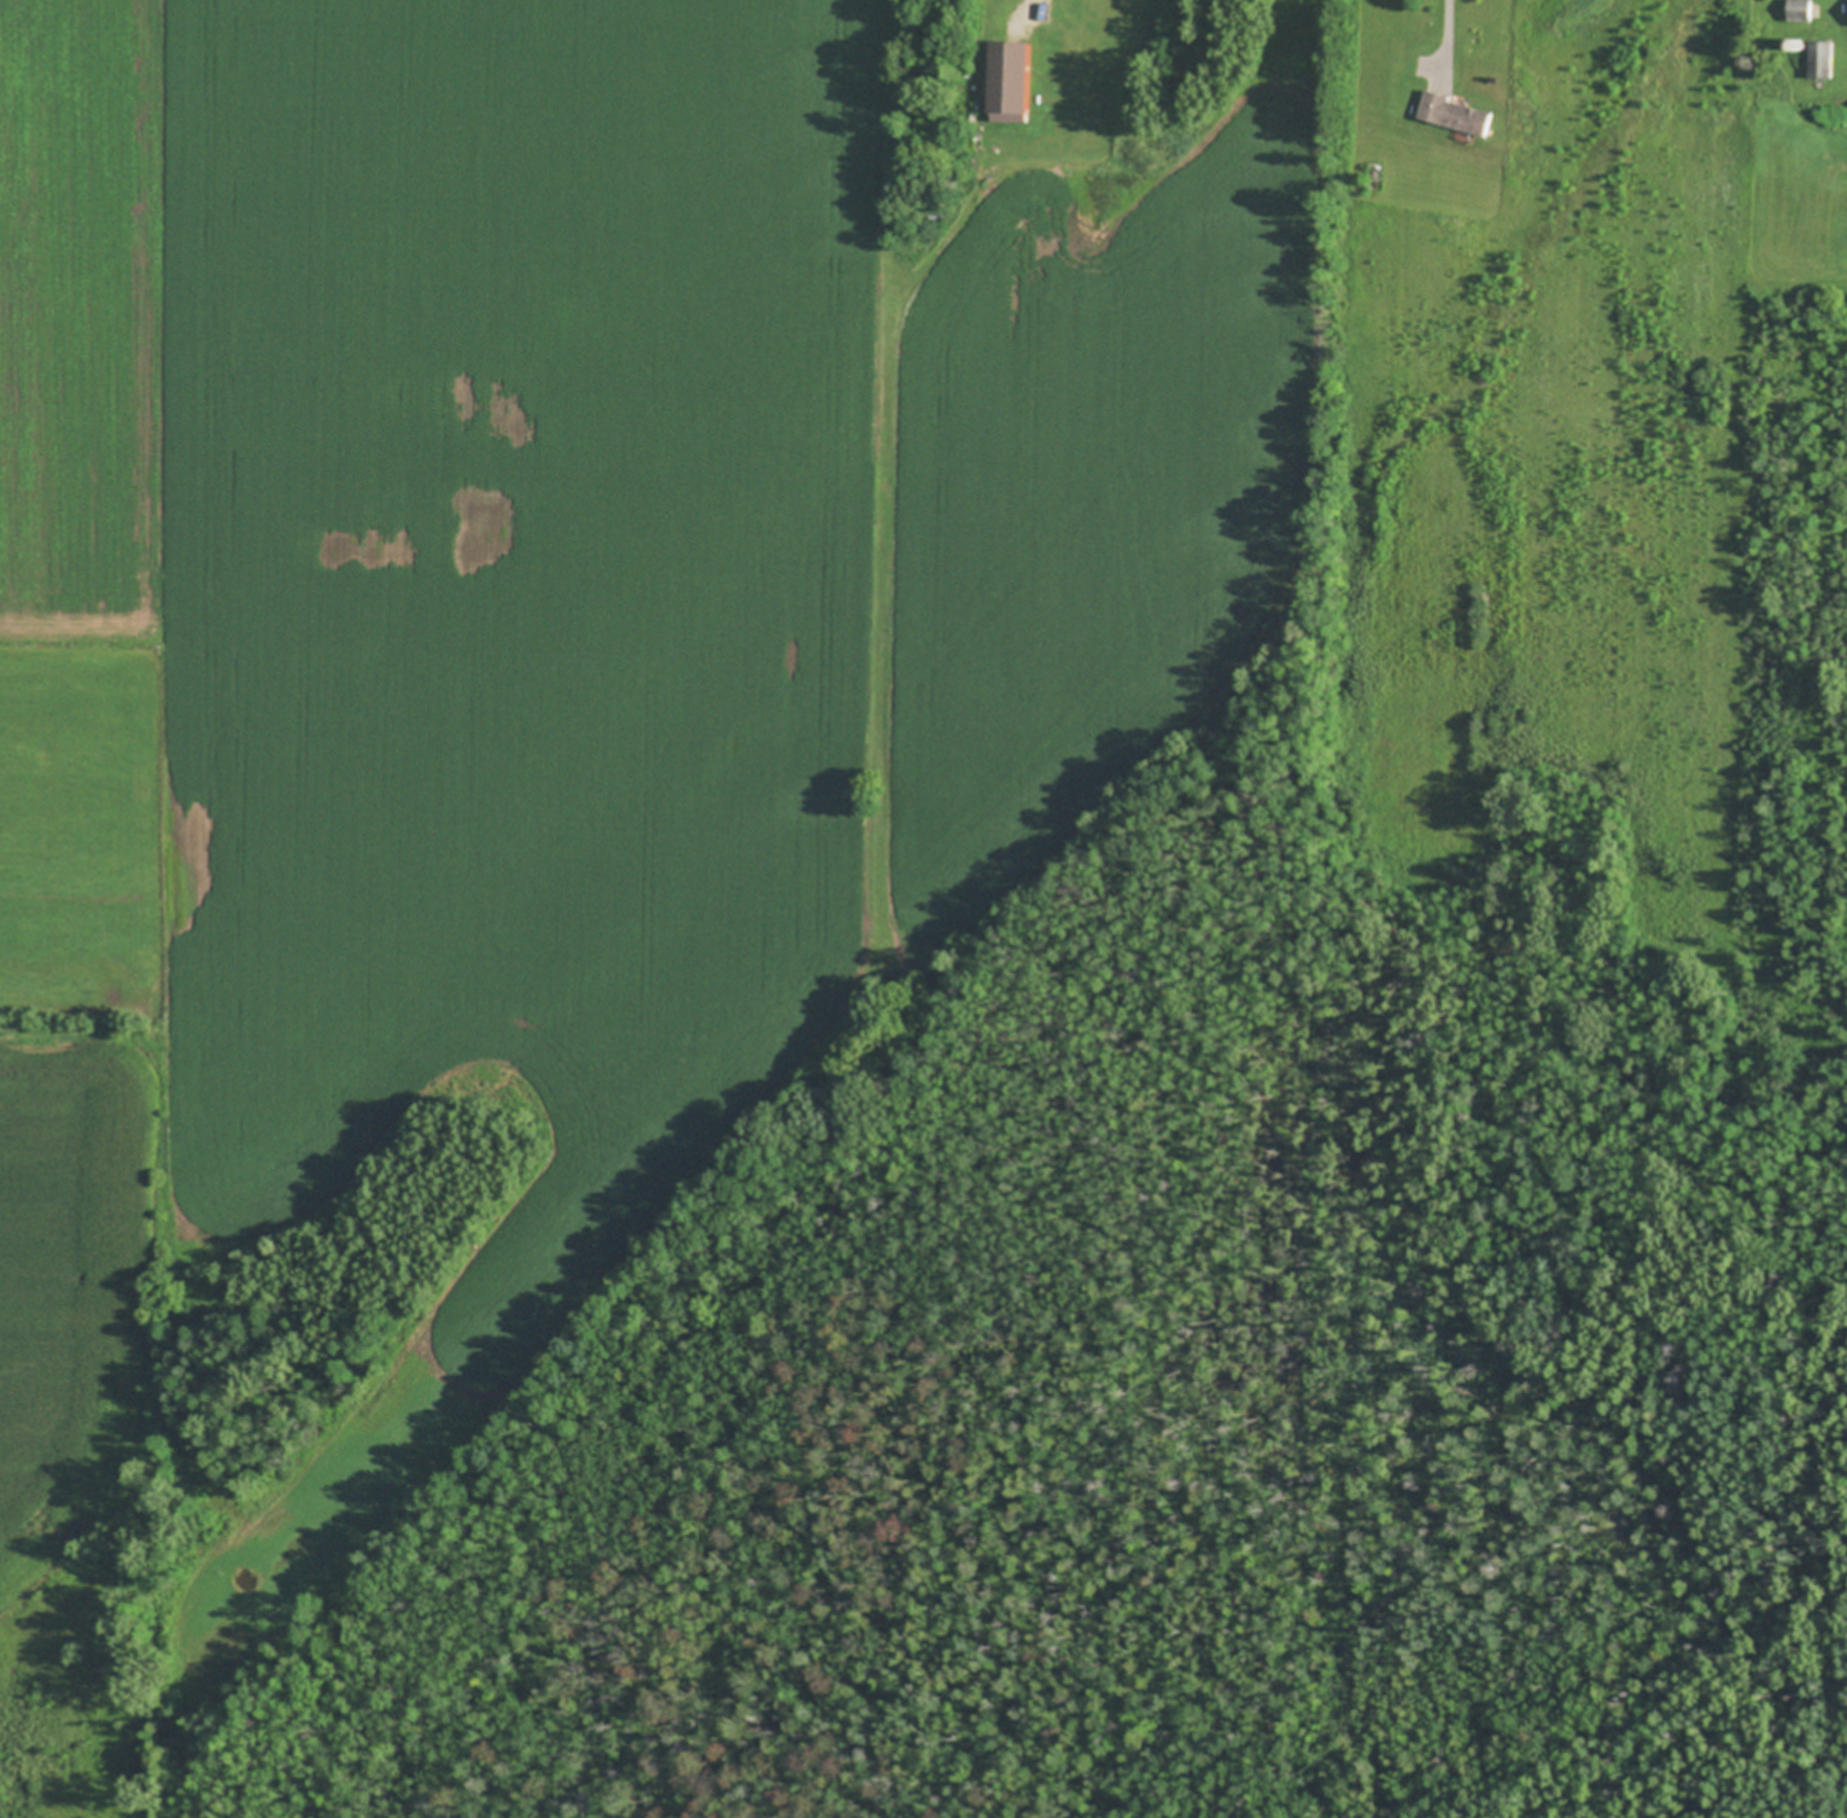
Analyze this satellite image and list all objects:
building: (1802, 10)
road: (1451, 40)
building: (1799, 42)
building: (1823, 59)
building: (1017, 80)
building: (1459, 112)
building: (940, 216)

